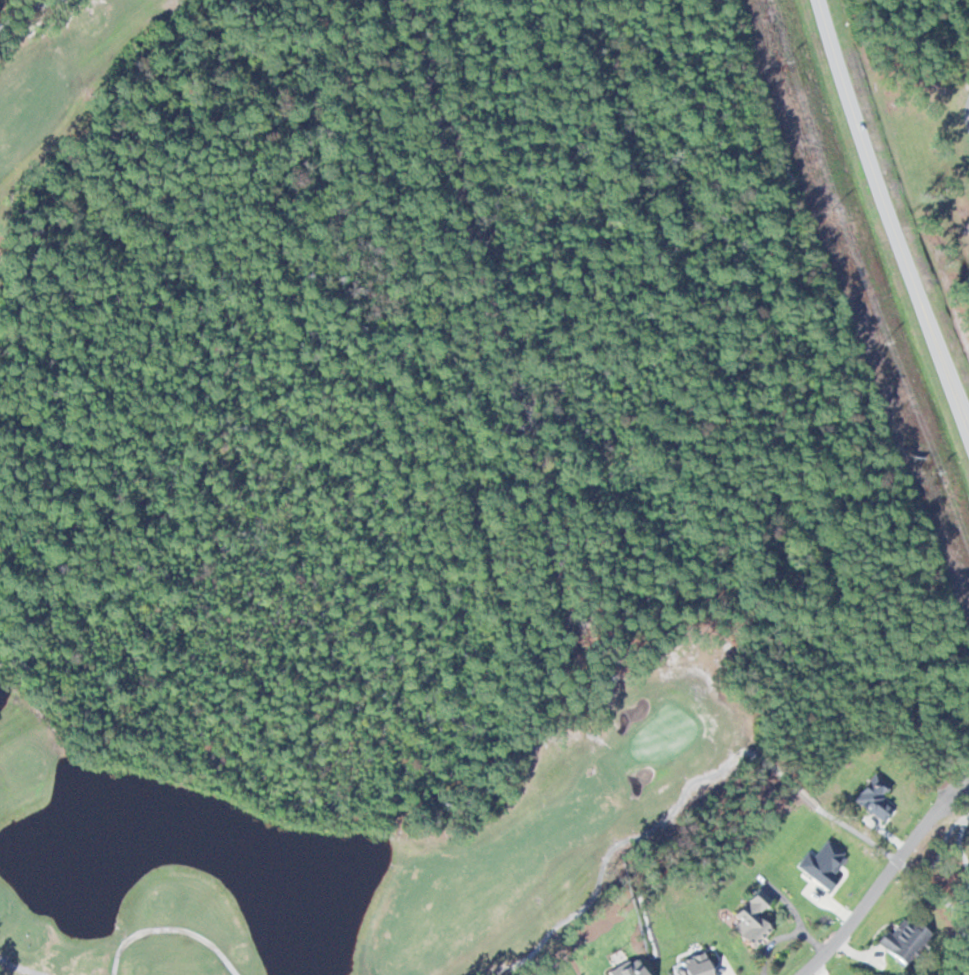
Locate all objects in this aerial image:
road: (37, 15)
road: (967, 114)
road: (890, 219)
road: (720, 769)
building: (876, 797)
road: (968, 814)
road: (964, 878)
road: (885, 881)
building: (751, 919)
road: (169, 928)
building: (904, 938)
building: (696, 967)
road: (21, 968)

